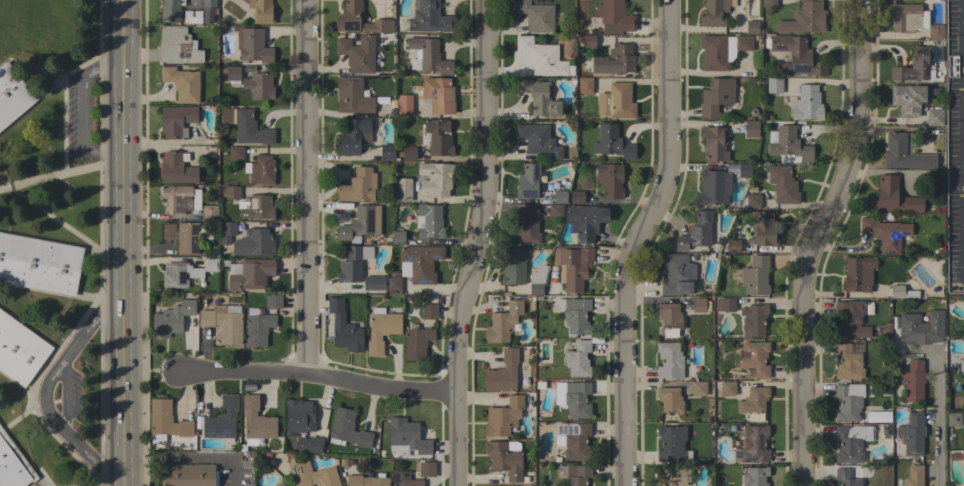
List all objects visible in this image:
building: (769, 3)
building: (171, 10)
building: (208, 10)
building: (261, 11)
building: (715, 12)
building: (349, 16)
building: (536, 16)
building: (191, 17)
building: (614, 17)
building: (906, 17)
building: (429, 18)
building: (805, 19)
building: (378, 26)
building: (752, 27)
building: (935, 31)
building: (588, 41)
building: (178, 45)
building: (253, 45)
building: (722, 50)
building: (357, 53)
building: (429, 55)
building: (796, 55)
building: (541, 57)
building: (614, 60)
building: (915, 66)
building: (233, 75)
building: (182, 83)
building: (585, 85)
building: (774, 85)
building: (258, 86)
building: (12, 95)
building: (438, 95)
building: (352, 96)
building: (716, 96)
building: (538, 97)
building: (907, 99)
building: (616, 101)
building: (807, 103)
building: (404, 106)
road: (82, 110)
building: (934, 116)
building: (176, 120)
building: (246, 126)
building: (751, 129)
building: (354, 136)
building: (438, 137)
building: (538, 140)
building: (611, 142)
building: (714, 143)
building: (789, 144)
building: (387, 151)
building: (235, 153)
building: (409, 153)
building: (905, 154)
building: (176, 168)
building: (744, 169)
building: (262, 170)
building: (436, 178)
building: (610, 180)
building: (528, 181)
building: (783, 184)
building: (358, 186)
road: (304, 187)
building: (713, 188)
building: (403, 190)
building: (232, 192)
building: (559, 197)
building: (576, 197)
building: (894, 197)
building: (180, 199)
building: (753, 201)
building: (257, 207)
building: (555, 210)
building: (209, 213)
building: (430, 221)
building: (584, 222)
building: (360, 224)
building: (527, 226)
building: (763, 228)
building: (227, 232)
building: (696, 232)
building: (885, 234)
building: (183, 236)
building: (398, 237)
road: (815, 239)
road: (637, 241)
road: (121, 242)
road: (470, 242)
building: (254, 243)
building: (732, 245)
building: (353, 263)
building: (419, 263)
building: (39, 264)
building: (210, 264)
building: (514, 267)
building: (574, 267)
building: (249, 273)
building: (858, 273)
building: (178, 275)
building: (677, 275)
building: (755, 276)
building: (537, 280)
building: (374, 283)
building: (393, 285)
building: (902, 292)
building: (272, 301)
building: (724, 304)
building: (698, 305)
building: (429, 311)
building: (575, 315)
building: (171, 319)
building: (669, 319)
building: (850, 319)
building: (753, 320)
building: (223, 322)
building: (503, 323)
building: (921, 327)
building: (257, 328)
building: (343, 328)
building: (381, 329)
building: (417, 343)
building: (20, 350)
building: (754, 358)
building: (577, 359)
building: (669, 360)
building: (847, 363)
building: (961, 367)
building: (503, 373)
road: (318, 376)
building: (913, 380)
road: (47, 386)
building: (726, 388)
building: (699, 389)
road: (65, 398)
building: (576, 399)
building: (669, 399)
building: (848, 402)
building: (753, 403)
building: (503, 416)
building: (299, 417)
building: (221, 419)
building: (953, 419)
building: (256, 421)
road: (939, 421)
building: (165, 422)
building: (347, 429)
building: (912, 434)
building: (407, 436)
building: (574, 439)
building: (851, 442)
building: (308, 444)
building: (672, 445)
building: (752, 445)
building: (242, 449)
building: (18, 455)
building: (956, 456)
road: (178, 457)
building: (505, 458)
building: (11, 469)
building: (426, 469)
road: (235, 471)
building: (189, 475)
building: (313, 475)
building: (577, 475)
building: (675, 476)
building: (753, 476)
building: (848, 476)
building: (914, 476)
building: (405, 479)
building: (365, 481)

